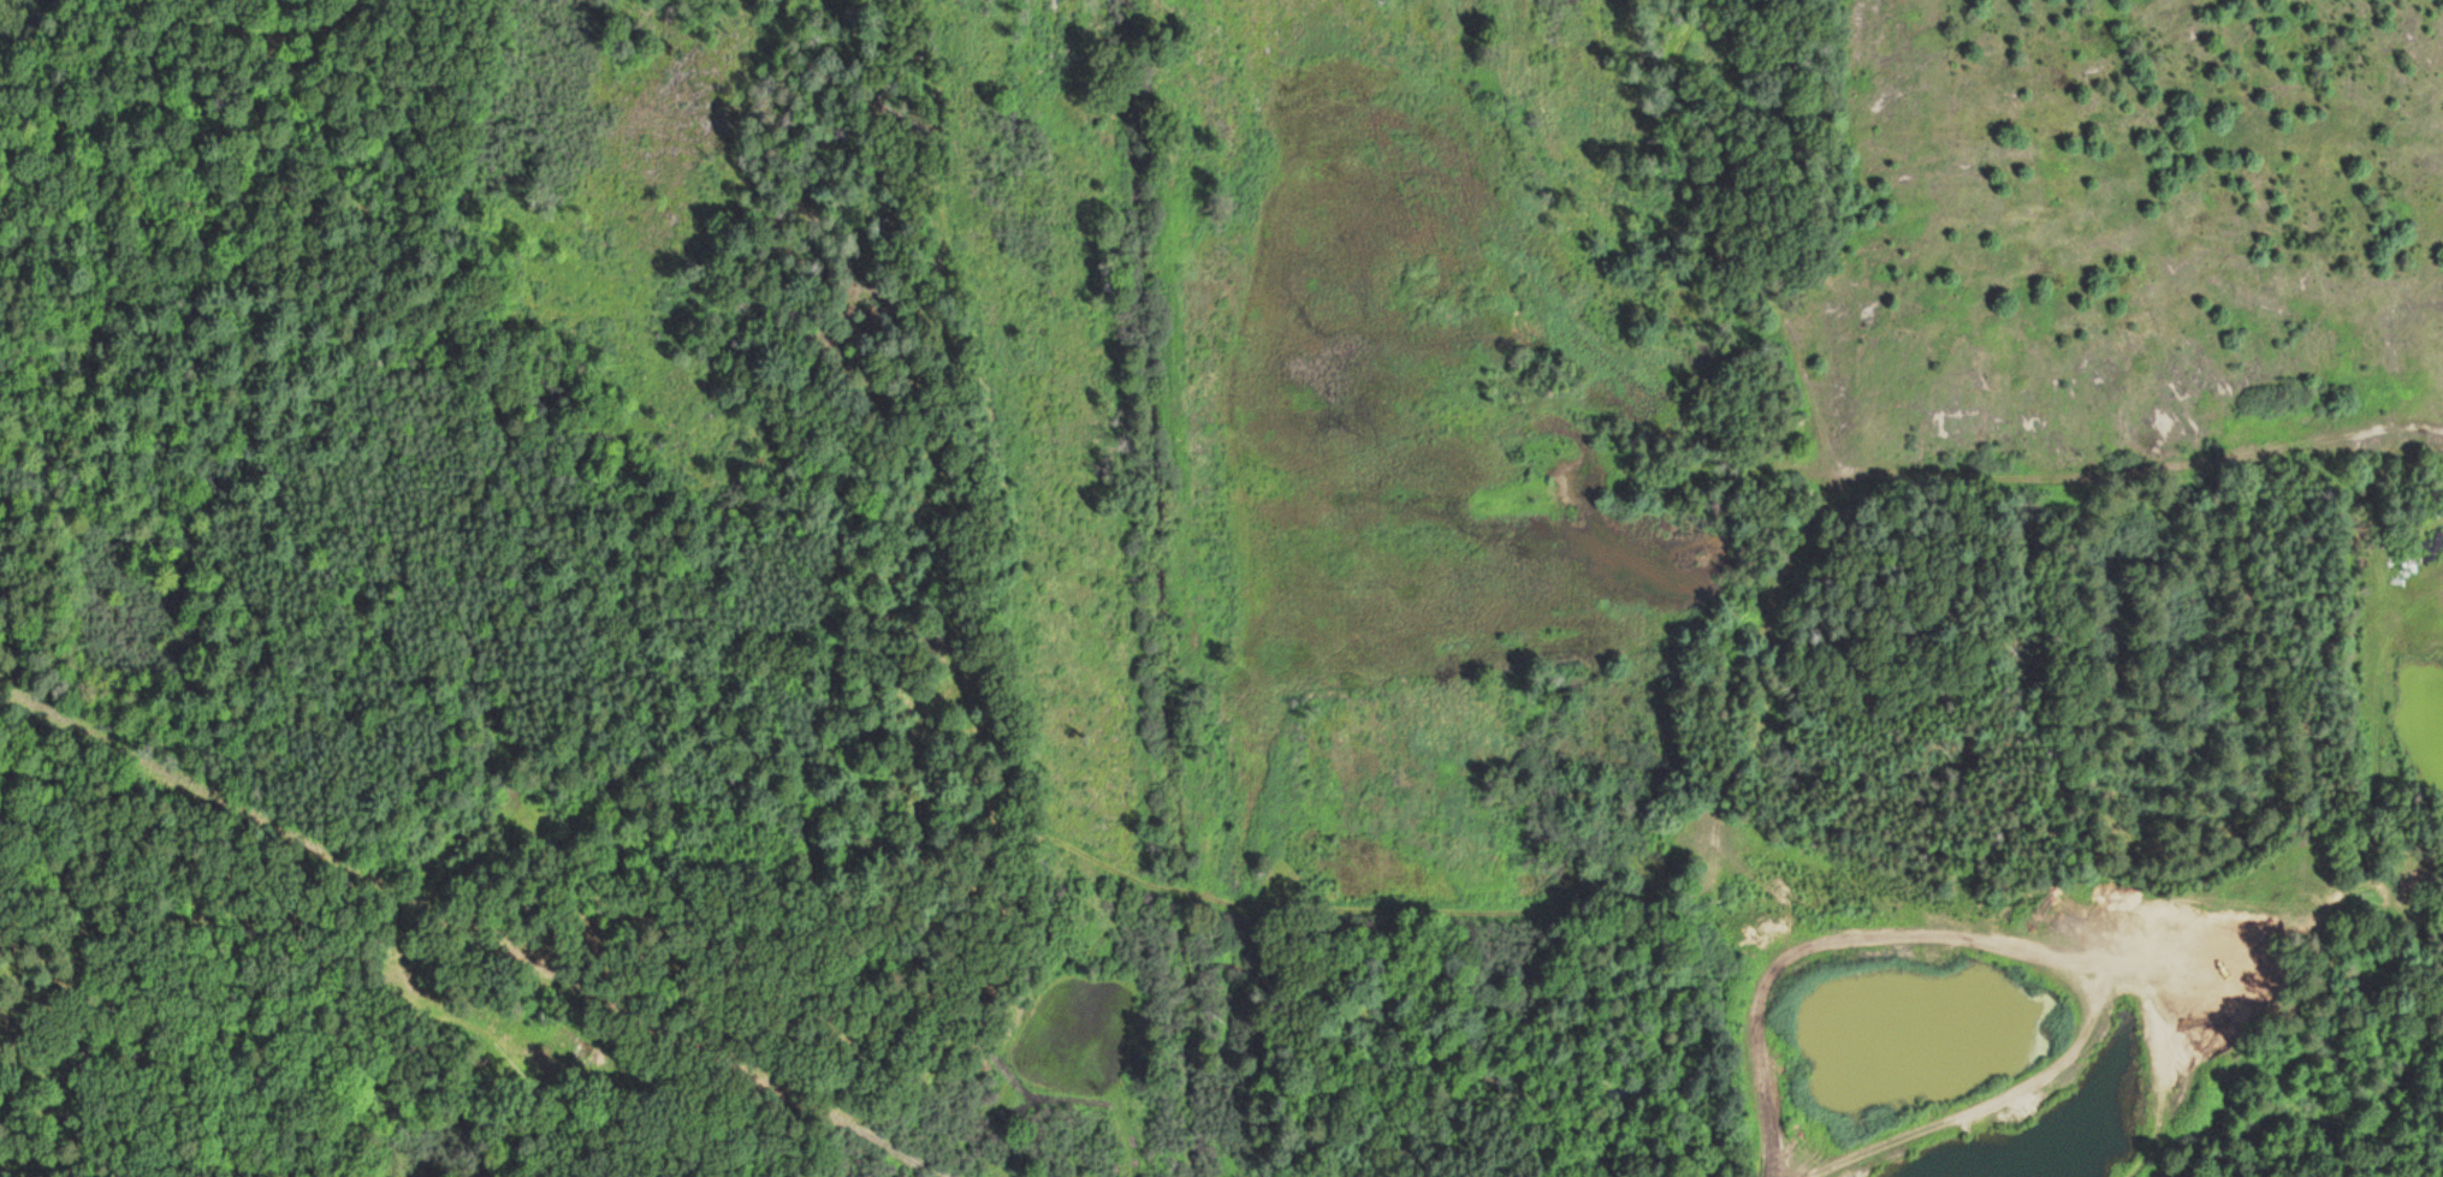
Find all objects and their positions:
railway: (475, 932)

